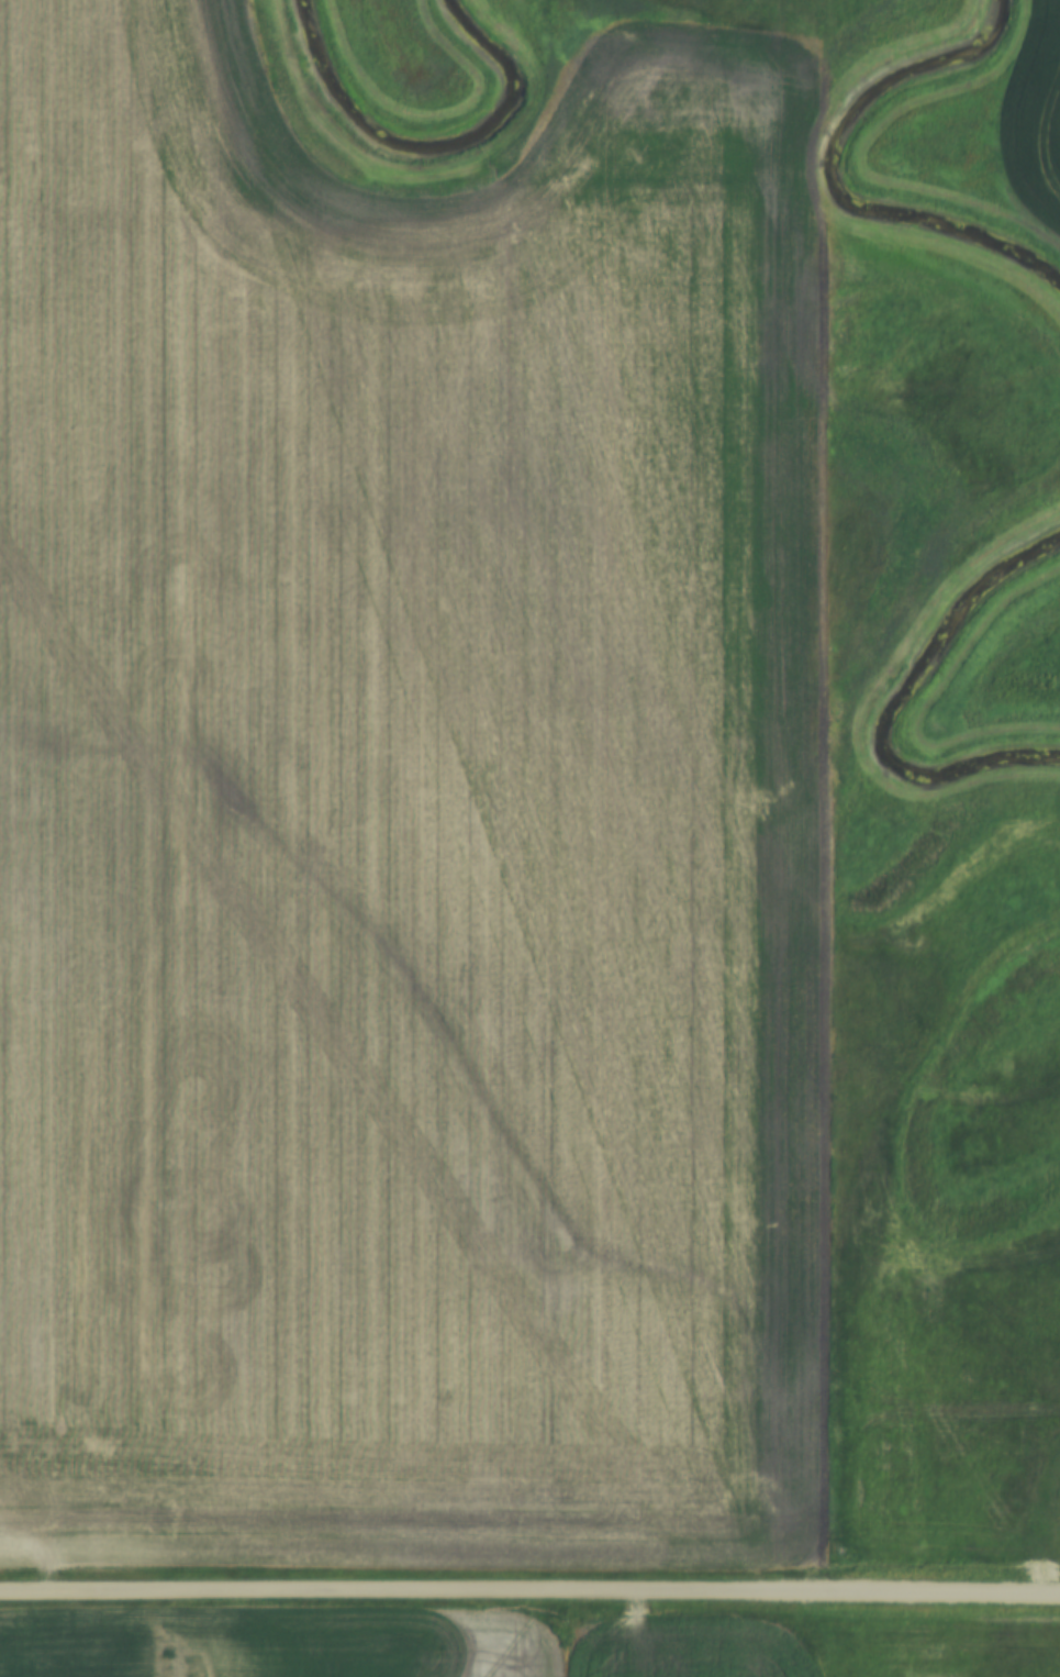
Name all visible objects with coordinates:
road: (529, 1595)

